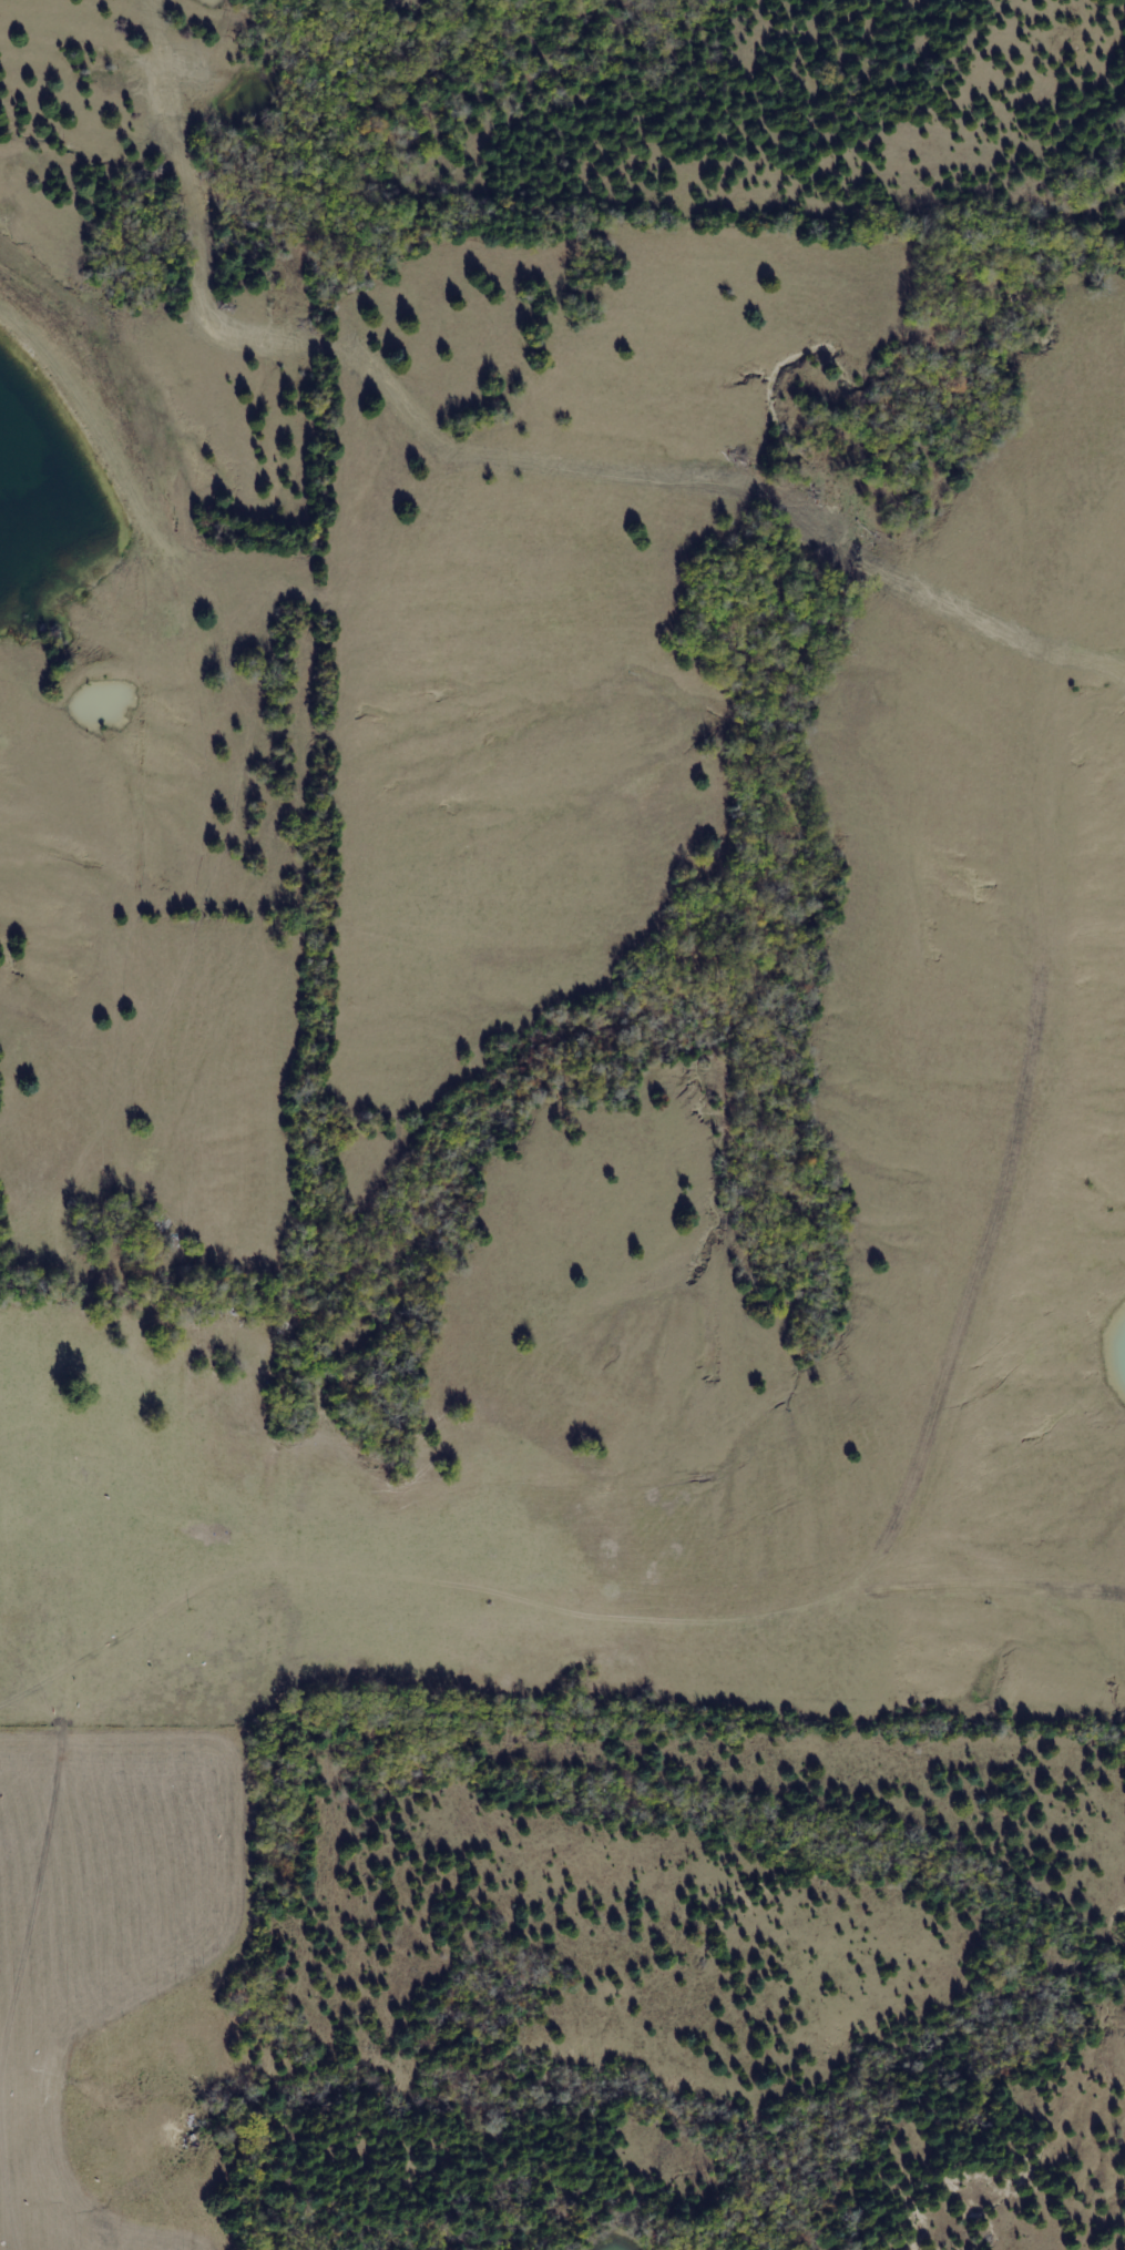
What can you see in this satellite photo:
road: (285, 1825)

